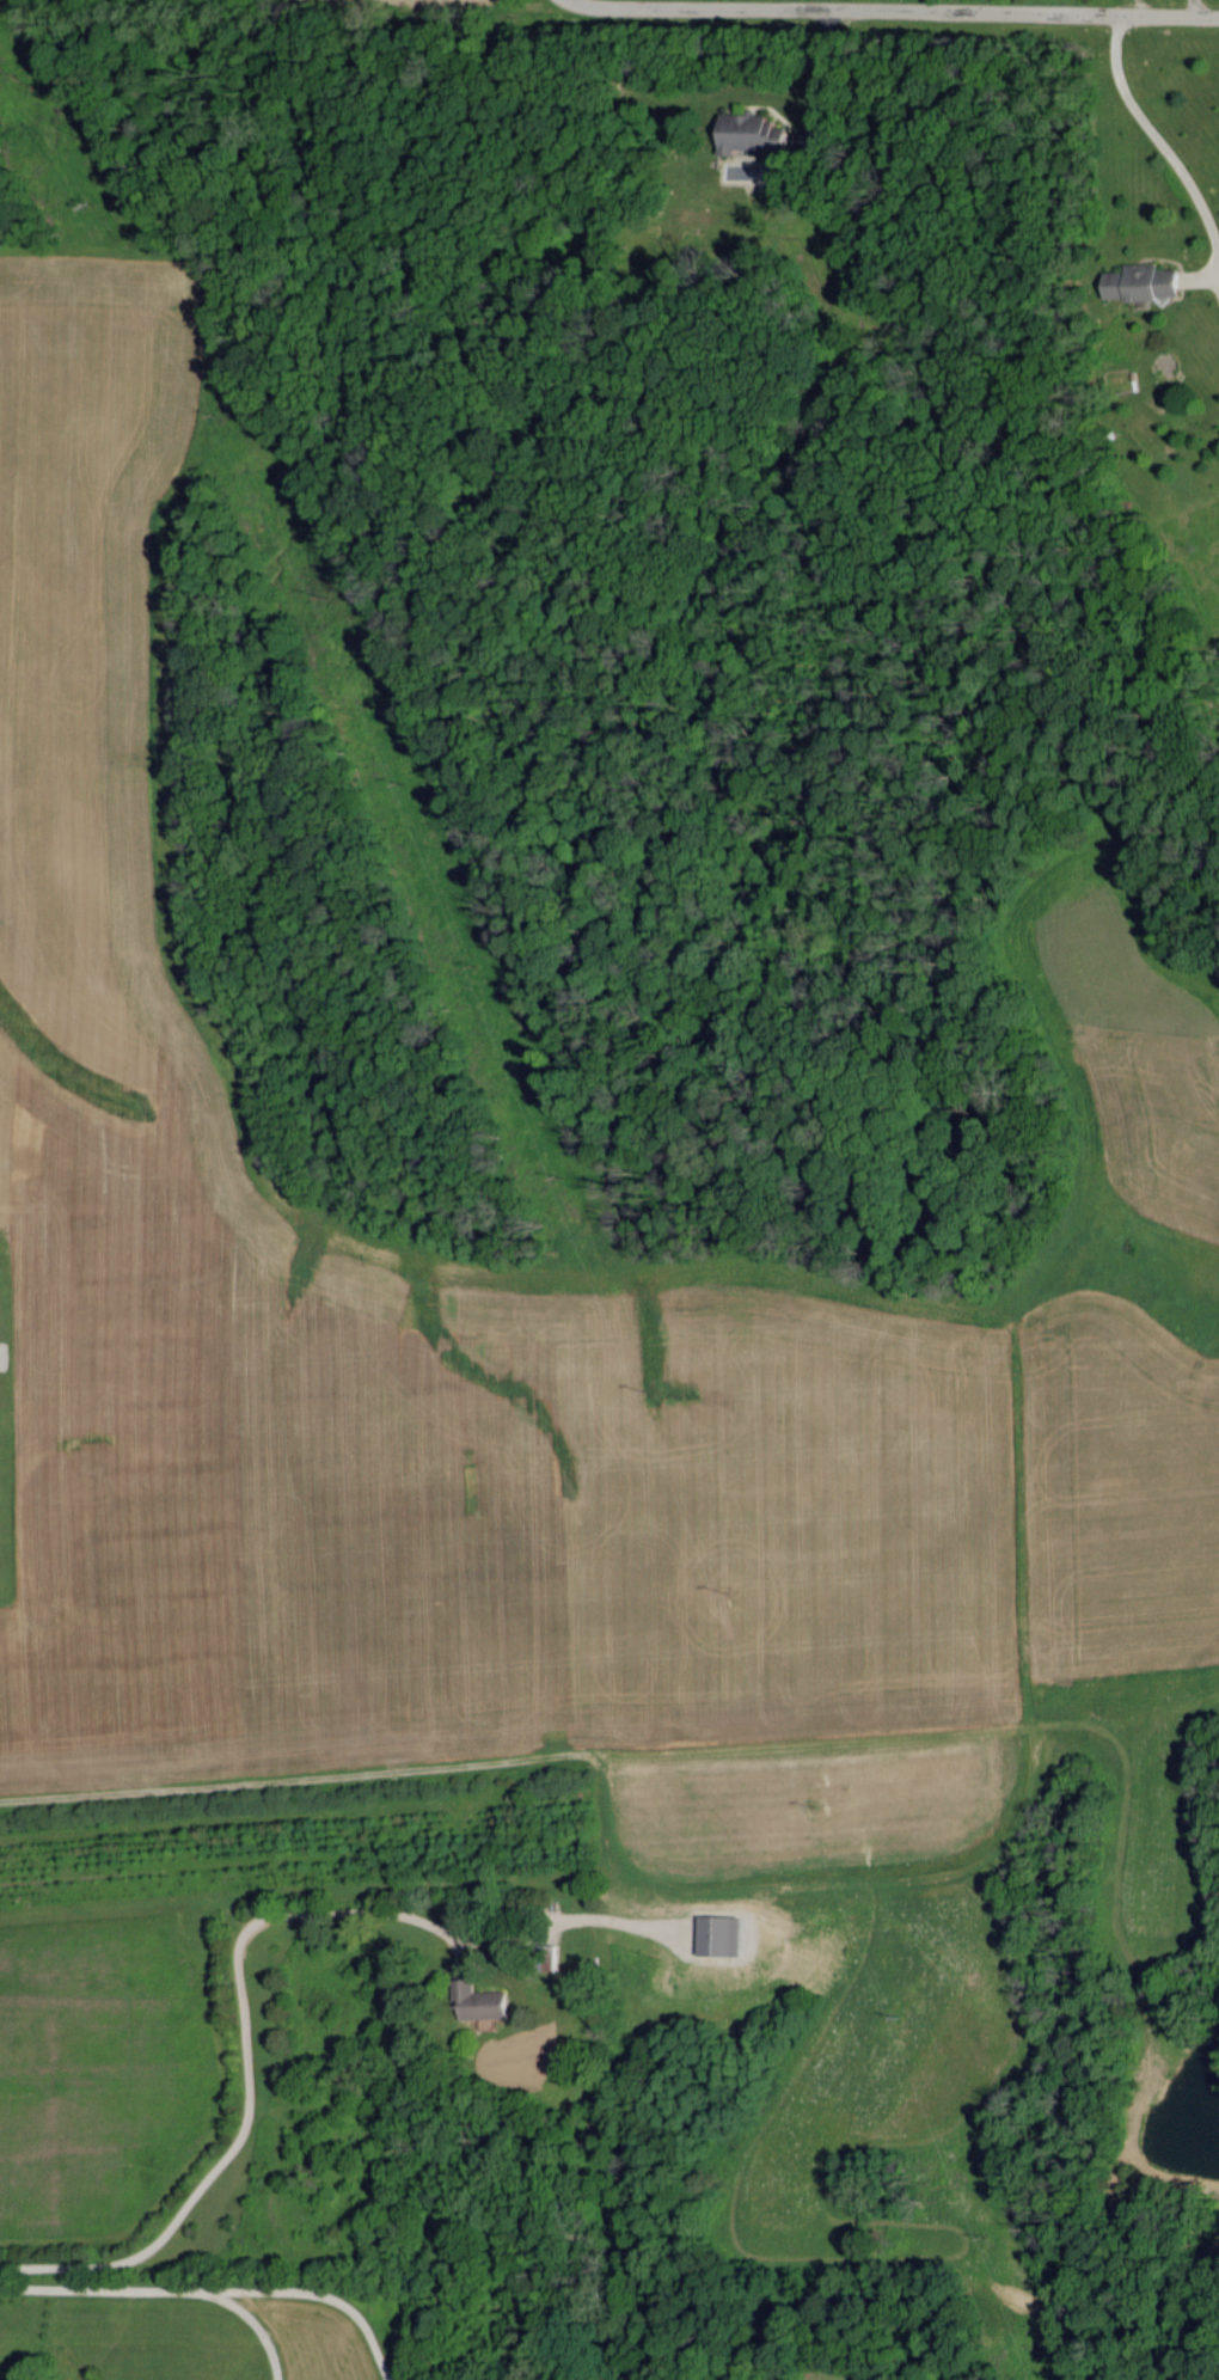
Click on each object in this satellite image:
road: (602, 6)
road: (927, 10)
road: (1192, 10)
road: (822, 72)
building: (753, 133)
road: (1156, 140)
building: (1145, 281)
building: (485, 2001)
road: (245, 2067)
park: (1033, 2232)
road: (1107, 2281)
road: (219, 2293)

